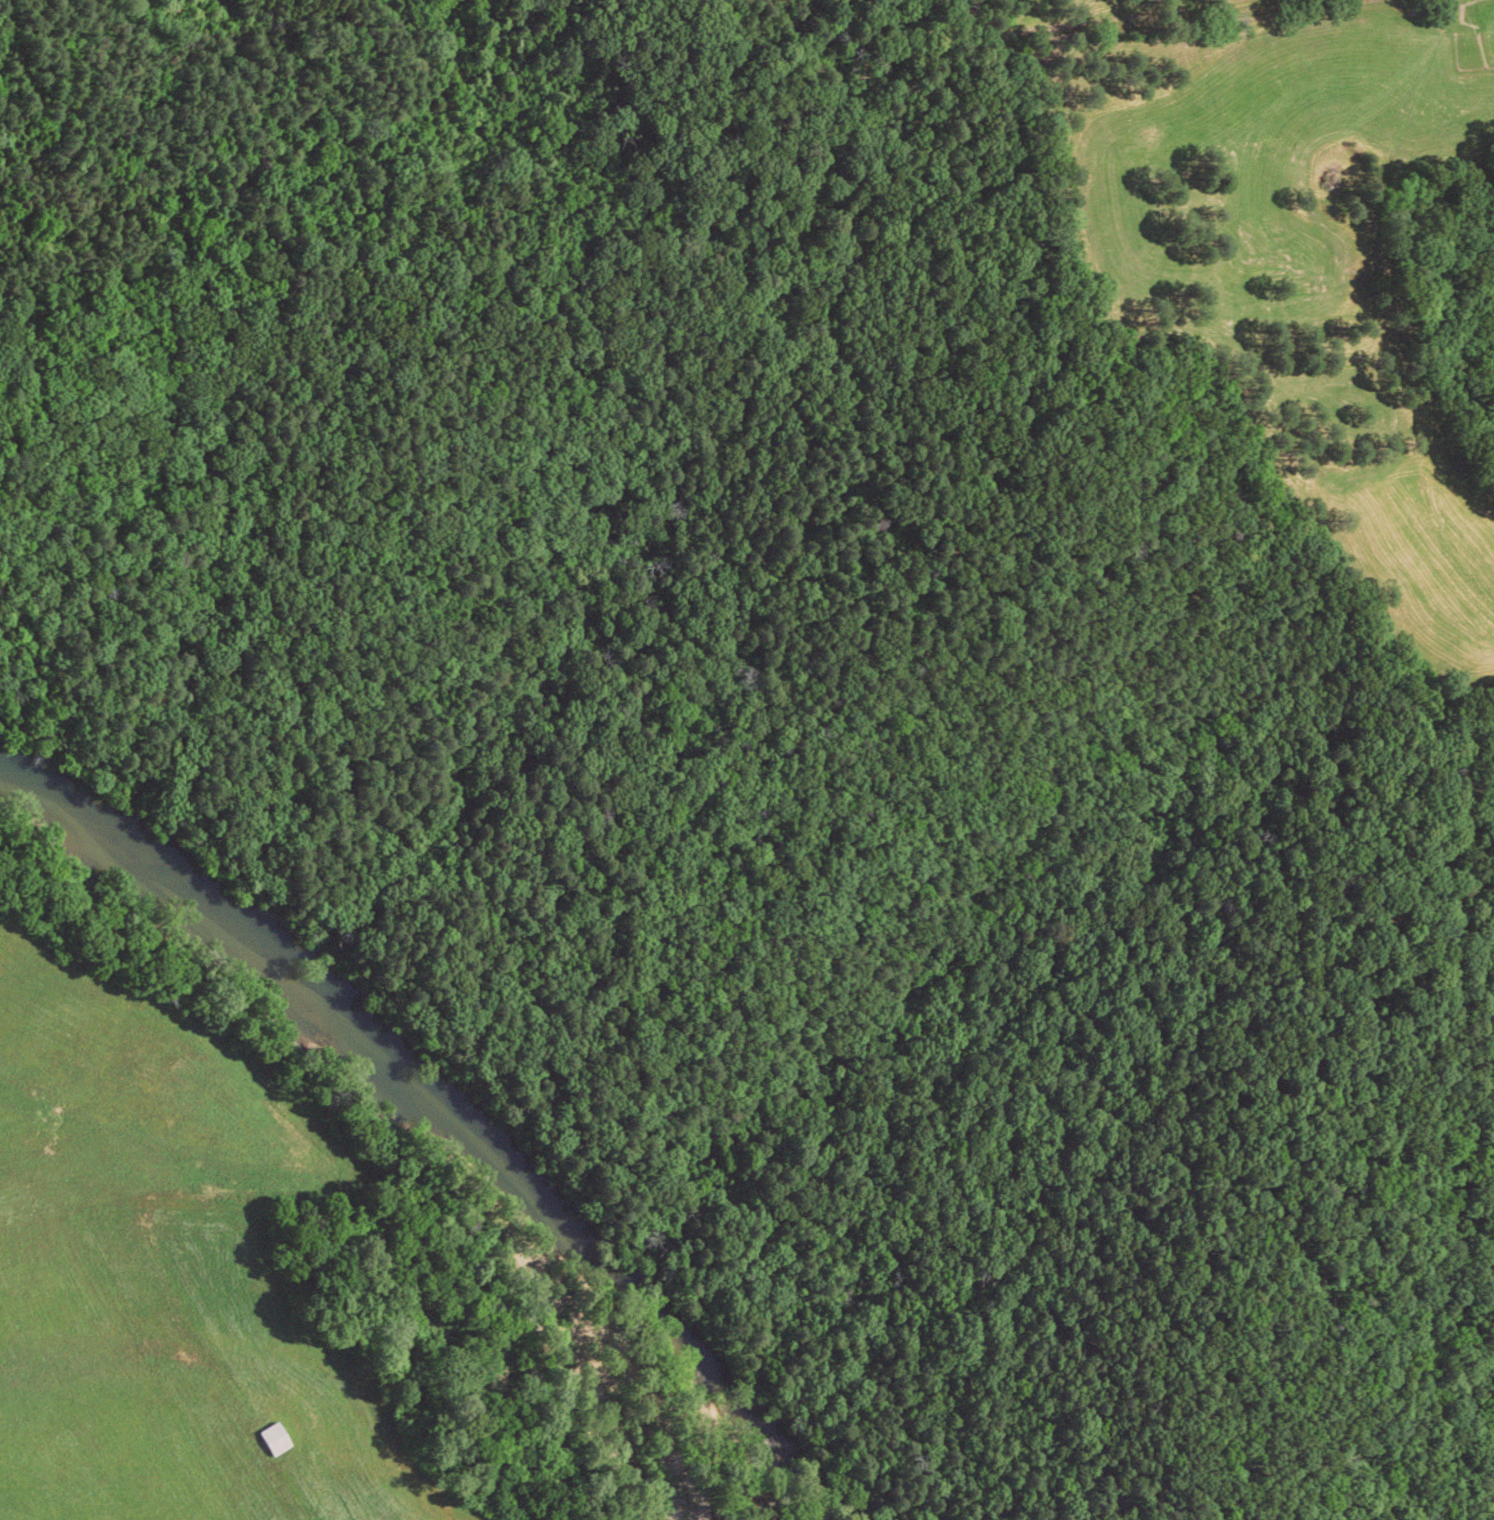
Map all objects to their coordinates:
road: (1152, 14)
road: (516, 141)
river: (438, 1111)
airport runway: (181, 1368)
road: (904, 1433)
river: (826, 1490)
road: (626, 1512)

